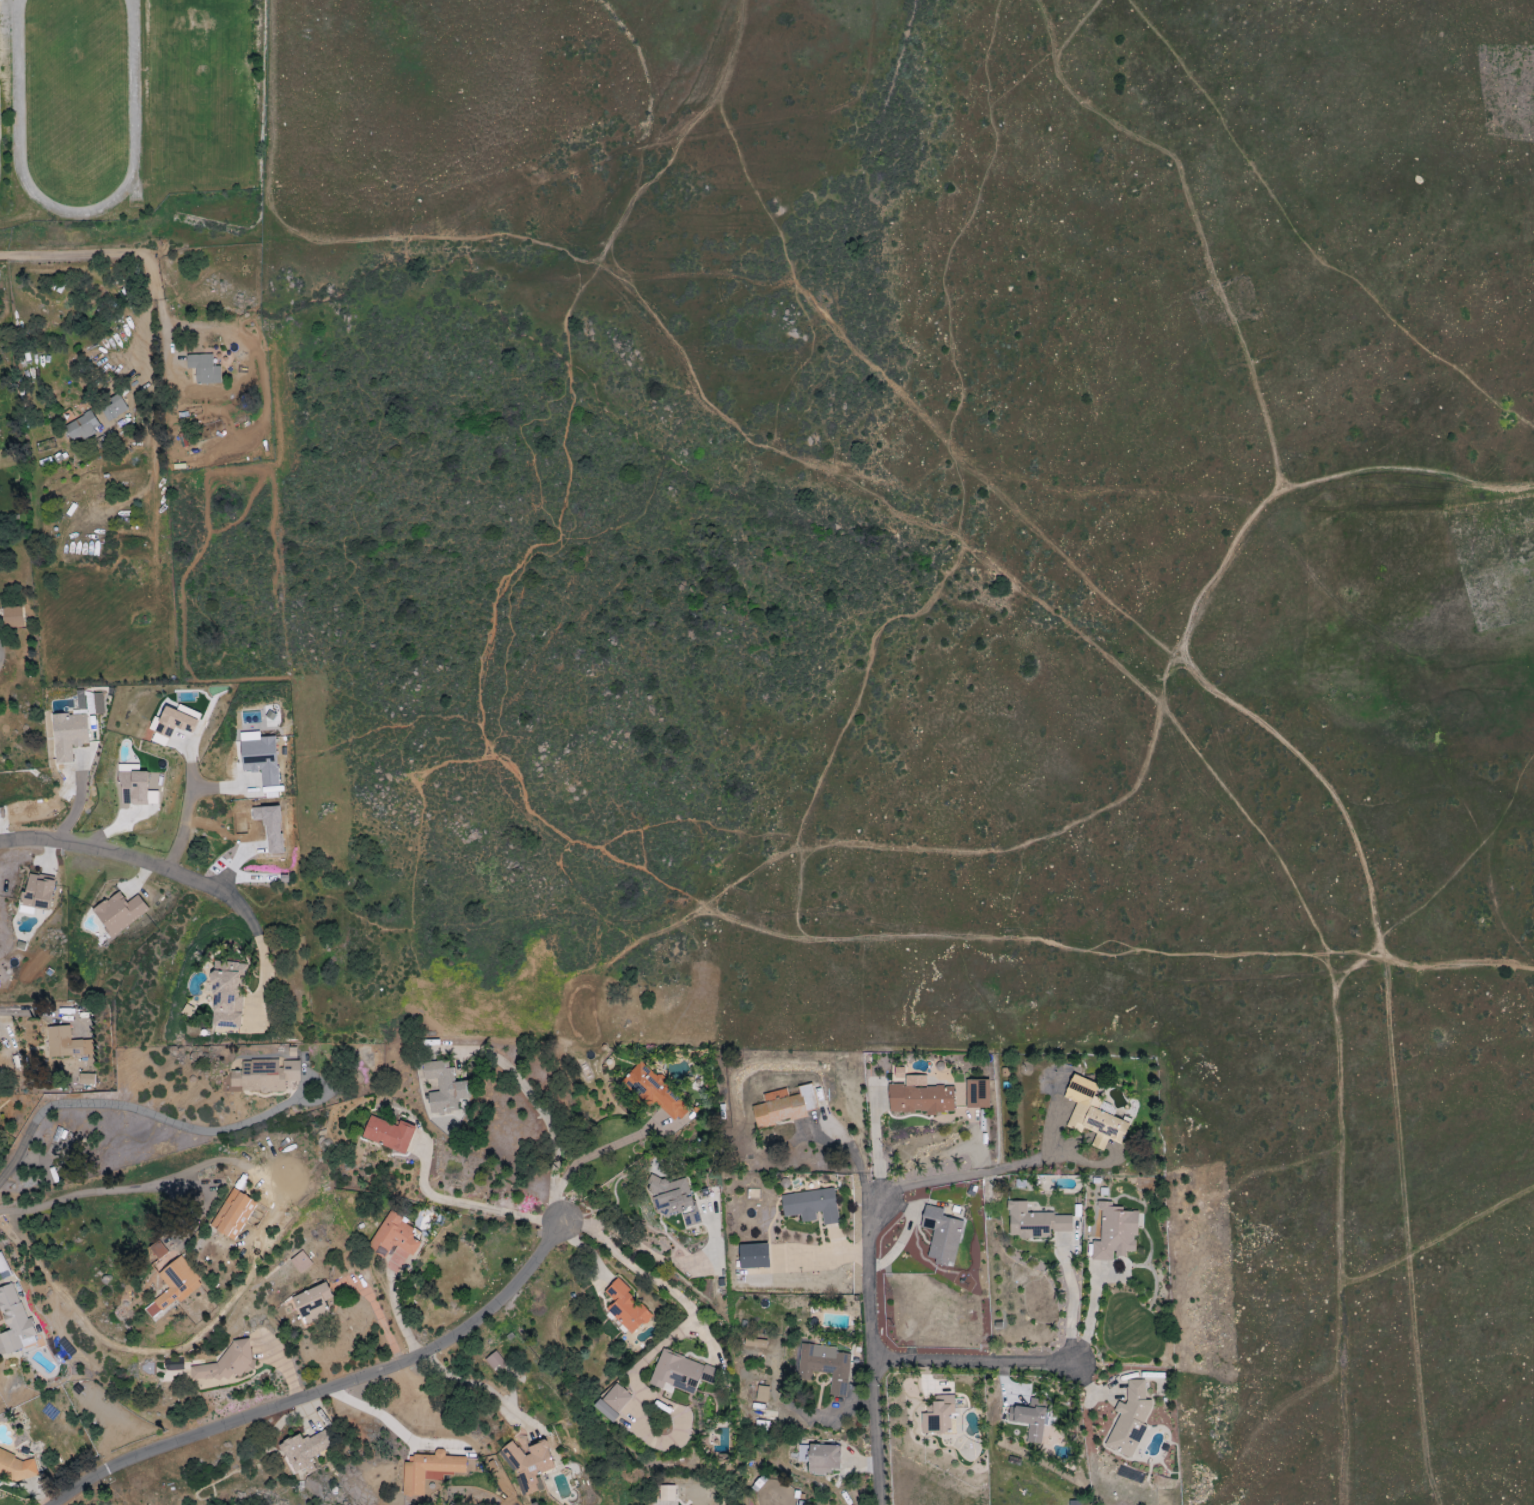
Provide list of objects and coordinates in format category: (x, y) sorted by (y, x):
road: (320, 250)
road: (70, 254)
road: (147, 317)
road: (166, 350)
building: (204, 369)
building: (114, 408)
building: (81, 427)
building: (12, 617)
building: (174, 723)
building: (68, 735)
building: (260, 759)
building: (133, 788)
road: (77, 799)
road: (201, 817)
road: (584, 852)
road: (135, 862)
building: (37, 893)
building: (119, 912)
road: (263, 972)
building: (226, 994)
road: (16, 1010)
building: (66, 1043)
building: (264, 1076)
building: (86, 1079)
building: (444, 1088)
building: (657, 1093)
building: (978, 1094)
building: (920, 1097)
road: (132, 1107)
building: (784, 1107)
road: (541, 1113)
building: (1093, 1114)
building: (389, 1134)
road: (604, 1149)
road: (965, 1174)
road: (93, 1191)
building: (670, 1196)
road: (468, 1204)
building: (811, 1206)
building: (233, 1215)
building: (1036, 1223)
road: (1341, 1230)
building: (1115, 1233)
building: (942, 1235)
building: (394, 1242)
building: (754, 1256)
road: (657, 1259)
building: (300, 1262)
building: (3, 1268)
road: (648, 1276)
building: (174, 1287)
building: (312, 1303)
road: (1072, 1306)
building: (626, 1308)
building: (14, 1323)
road: (882, 1354)
building: (494, 1362)
building: (227, 1363)
road: (979, 1364)
building: (824, 1366)
building: (680, 1373)
road: (317, 1384)
road: (476, 1384)
building: (762, 1394)
building: (616, 1398)
building: (606, 1411)
road: (400, 1416)
building: (938, 1416)
building: (1031, 1419)
building: (1130, 1420)
building: (305, 1451)
building: (820, 1458)
building: (529, 1465)
building: (15, 1466)
building: (429, 1471)
building: (667, 1493)
building: (1074, 1502)

